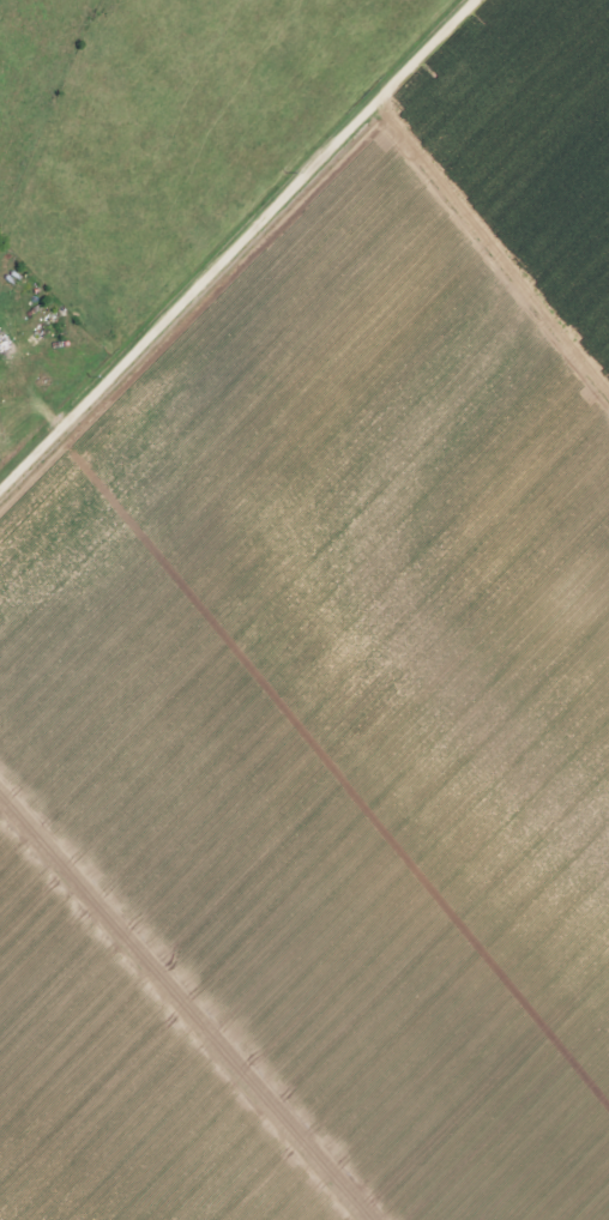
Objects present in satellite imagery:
road: (235, 242)
road: (490, 250)

